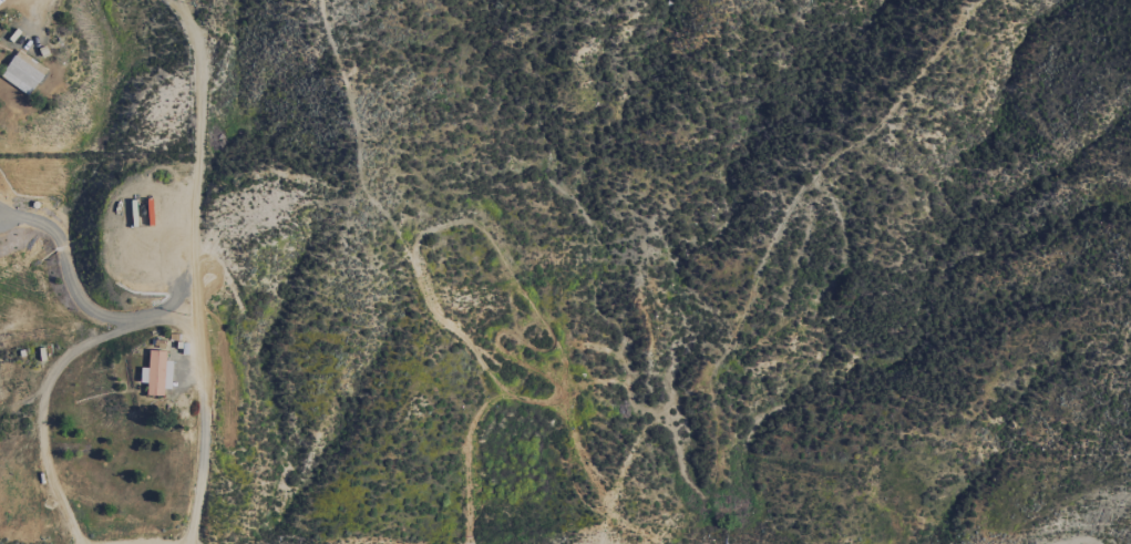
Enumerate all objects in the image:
road: (182, 8)
road: (191, 8)
road: (33, 18)
building: (24, 74)
road: (69, 276)
road: (202, 279)
building: (155, 372)
road: (47, 373)

